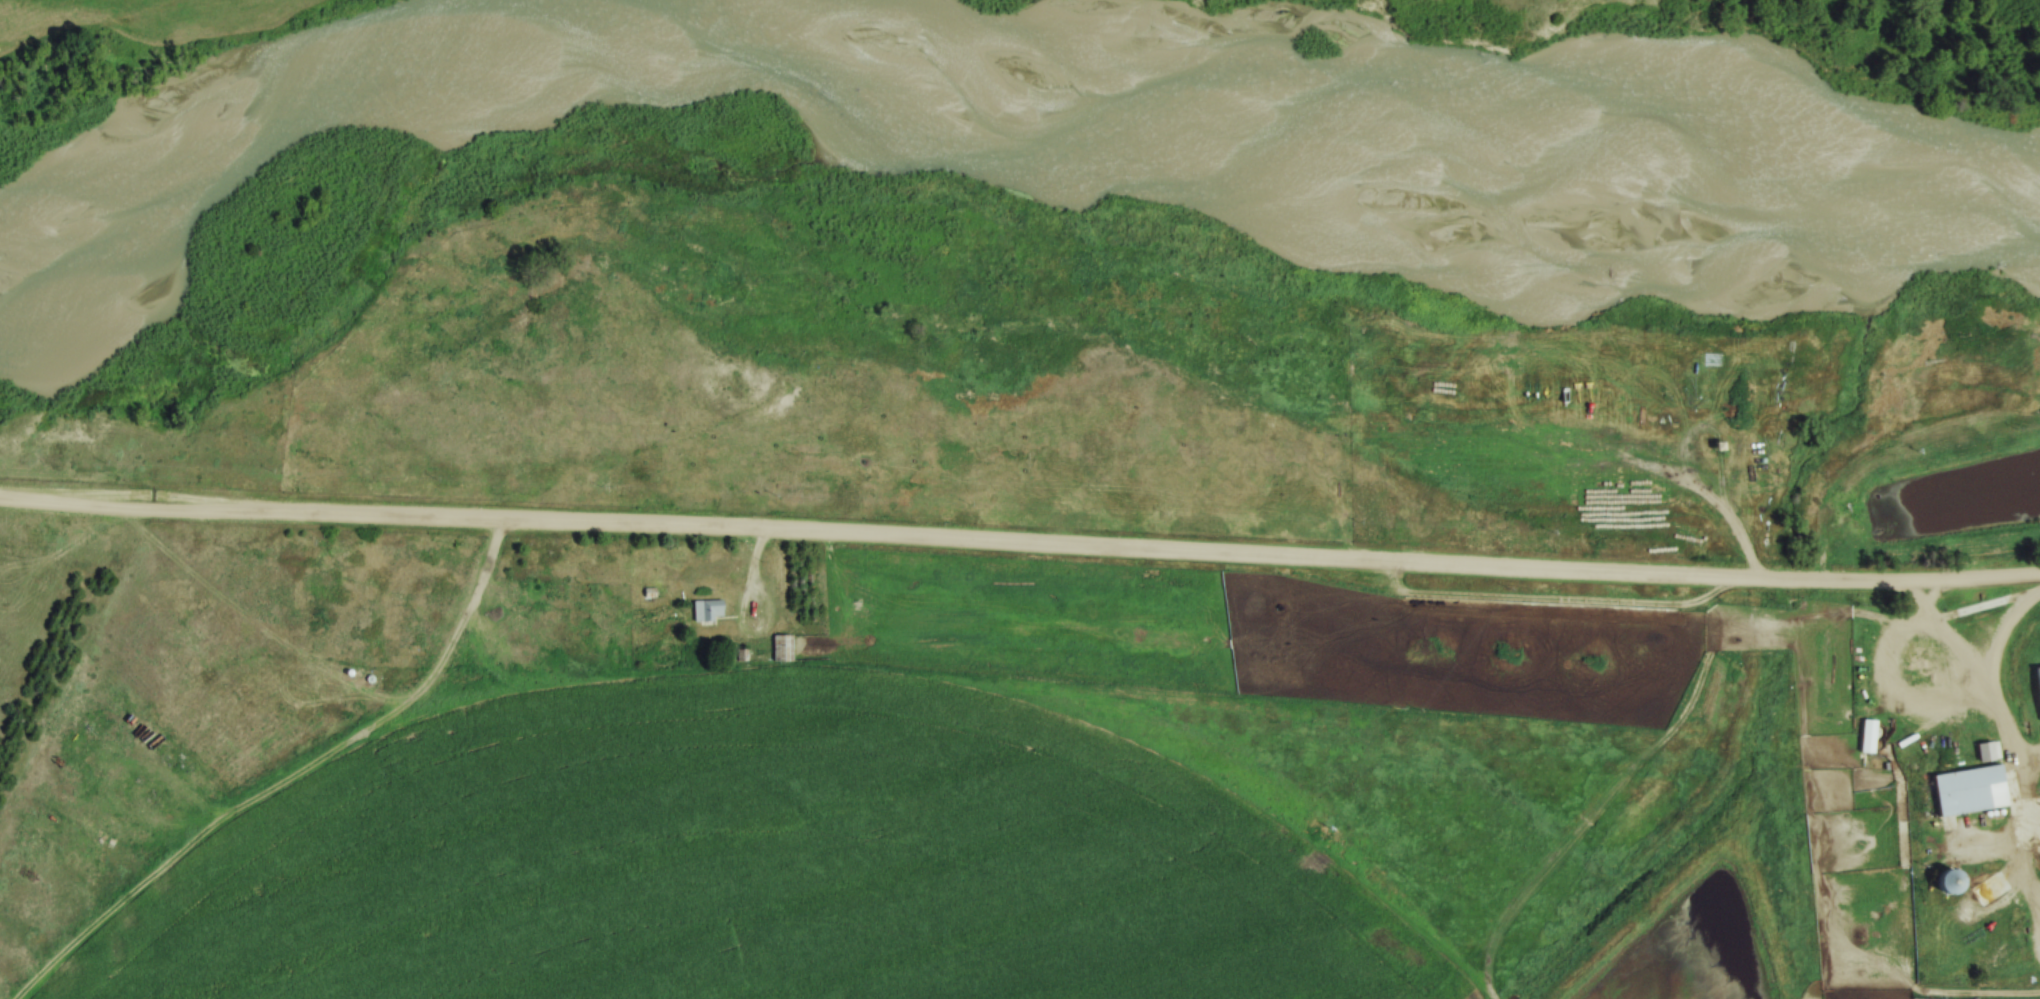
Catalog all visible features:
river: (986, 62)
road: (1019, 542)
road: (756, 557)
building: (709, 612)
road: (749, 635)
building: (784, 650)
building: (2038, 677)
road: (1994, 696)
building: (1871, 738)
building: (1991, 754)
building: (1970, 792)
crop: (760, 863)
building: (1953, 884)

